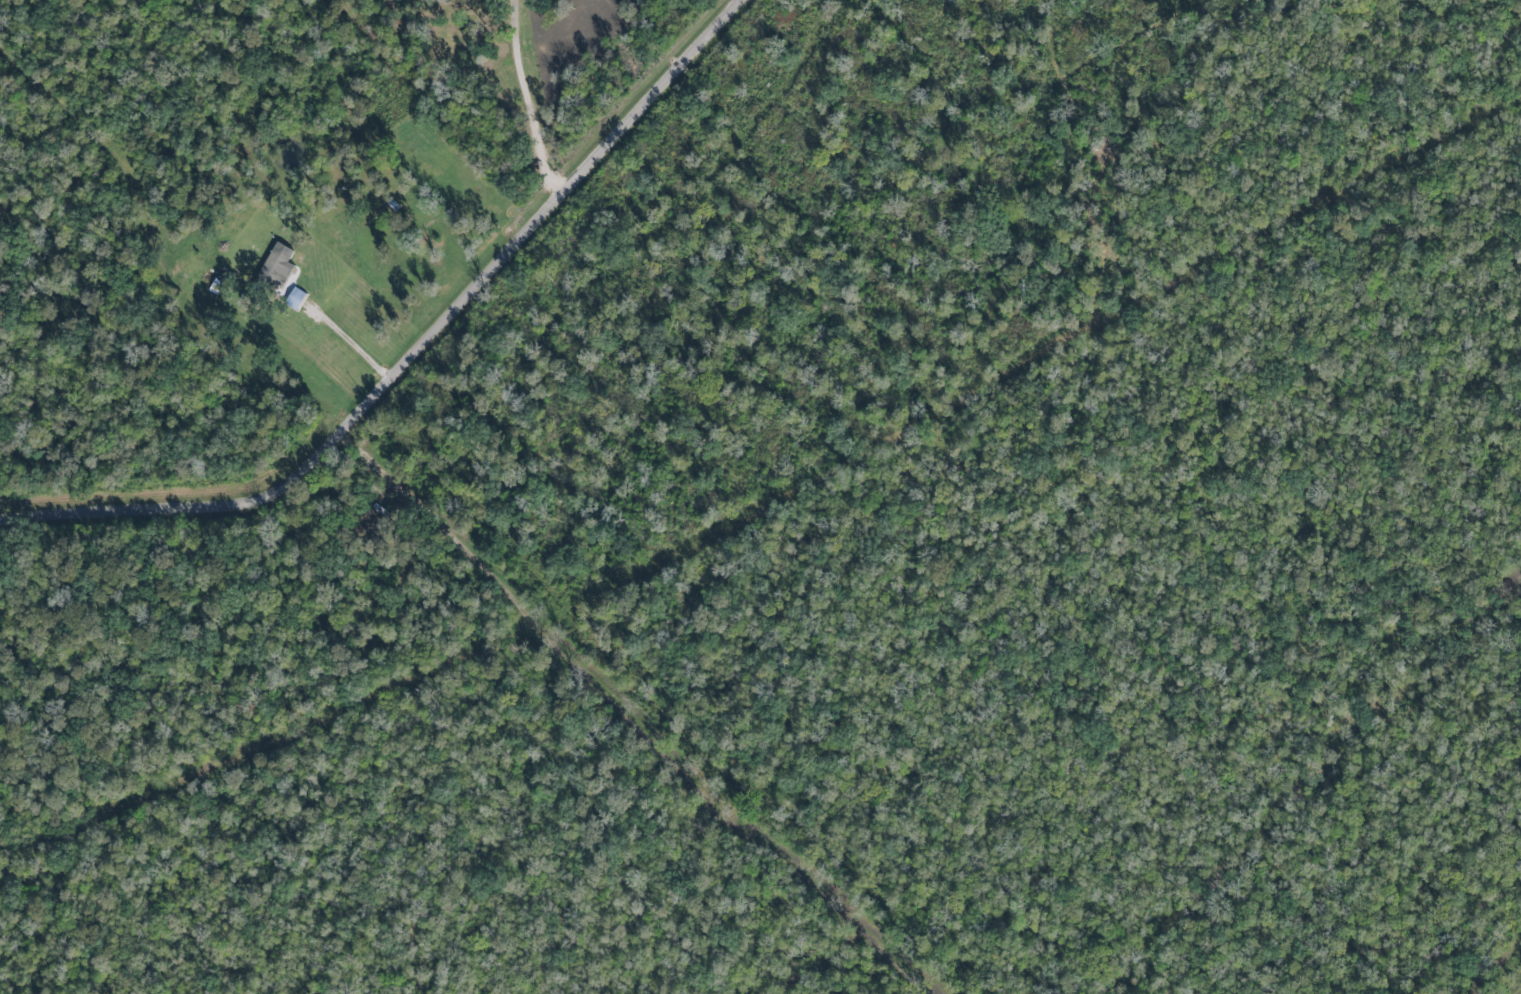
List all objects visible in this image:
road: (529, 99)
building: (279, 260)
building: (294, 298)
road: (418, 353)

